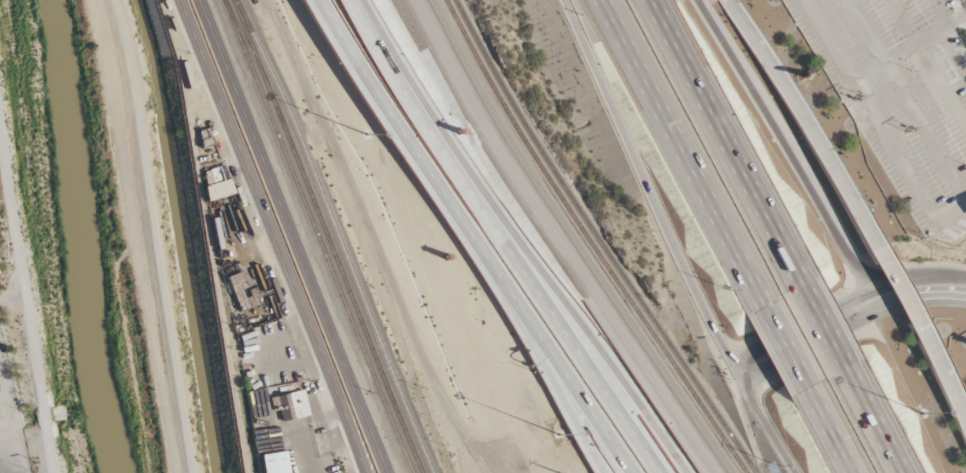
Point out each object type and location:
road: (602, 7)
road: (959, 12)
road: (940, 13)
road: (952, 55)
railway: (253, 60)
railway: (256, 60)
road: (929, 64)
road: (869, 71)
parking lot: (901, 95)
power tower: (857, 98)
road: (906, 100)
road: (805, 122)
power tower: (909, 130)
building: (343, 137)
road: (725, 142)
road: (790, 153)
road: (684, 158)
road: (901, 164)
road: (647, 188)
road: (10, 227)
railway: (335, 235)
road: (273, 236)
road: (291, 236)
railway: (318, 236)
river: (81, 237)
road: (481, 237)
road: (510, 238)
railway: (601, 239)
railway: (575, 240)
railway: (589, 240)
power tower: (946, 247)
road: (897, 285)
railway: (352, 296)
road: (9, 298)
road: (26, 302)
road: (842, 304)
road: (585, 316)
road: (848, 326)
road: (822, 327)
road: (535, 334)
building: (424, 338)
road: (785, 347)
road: (943, 372)
traffic signals: (737, 375)
road: (33, 383)
building: (288, 408)
road: (872, 420)
road: (765, 424)
road: (830, 432)
road: (5, 436)

